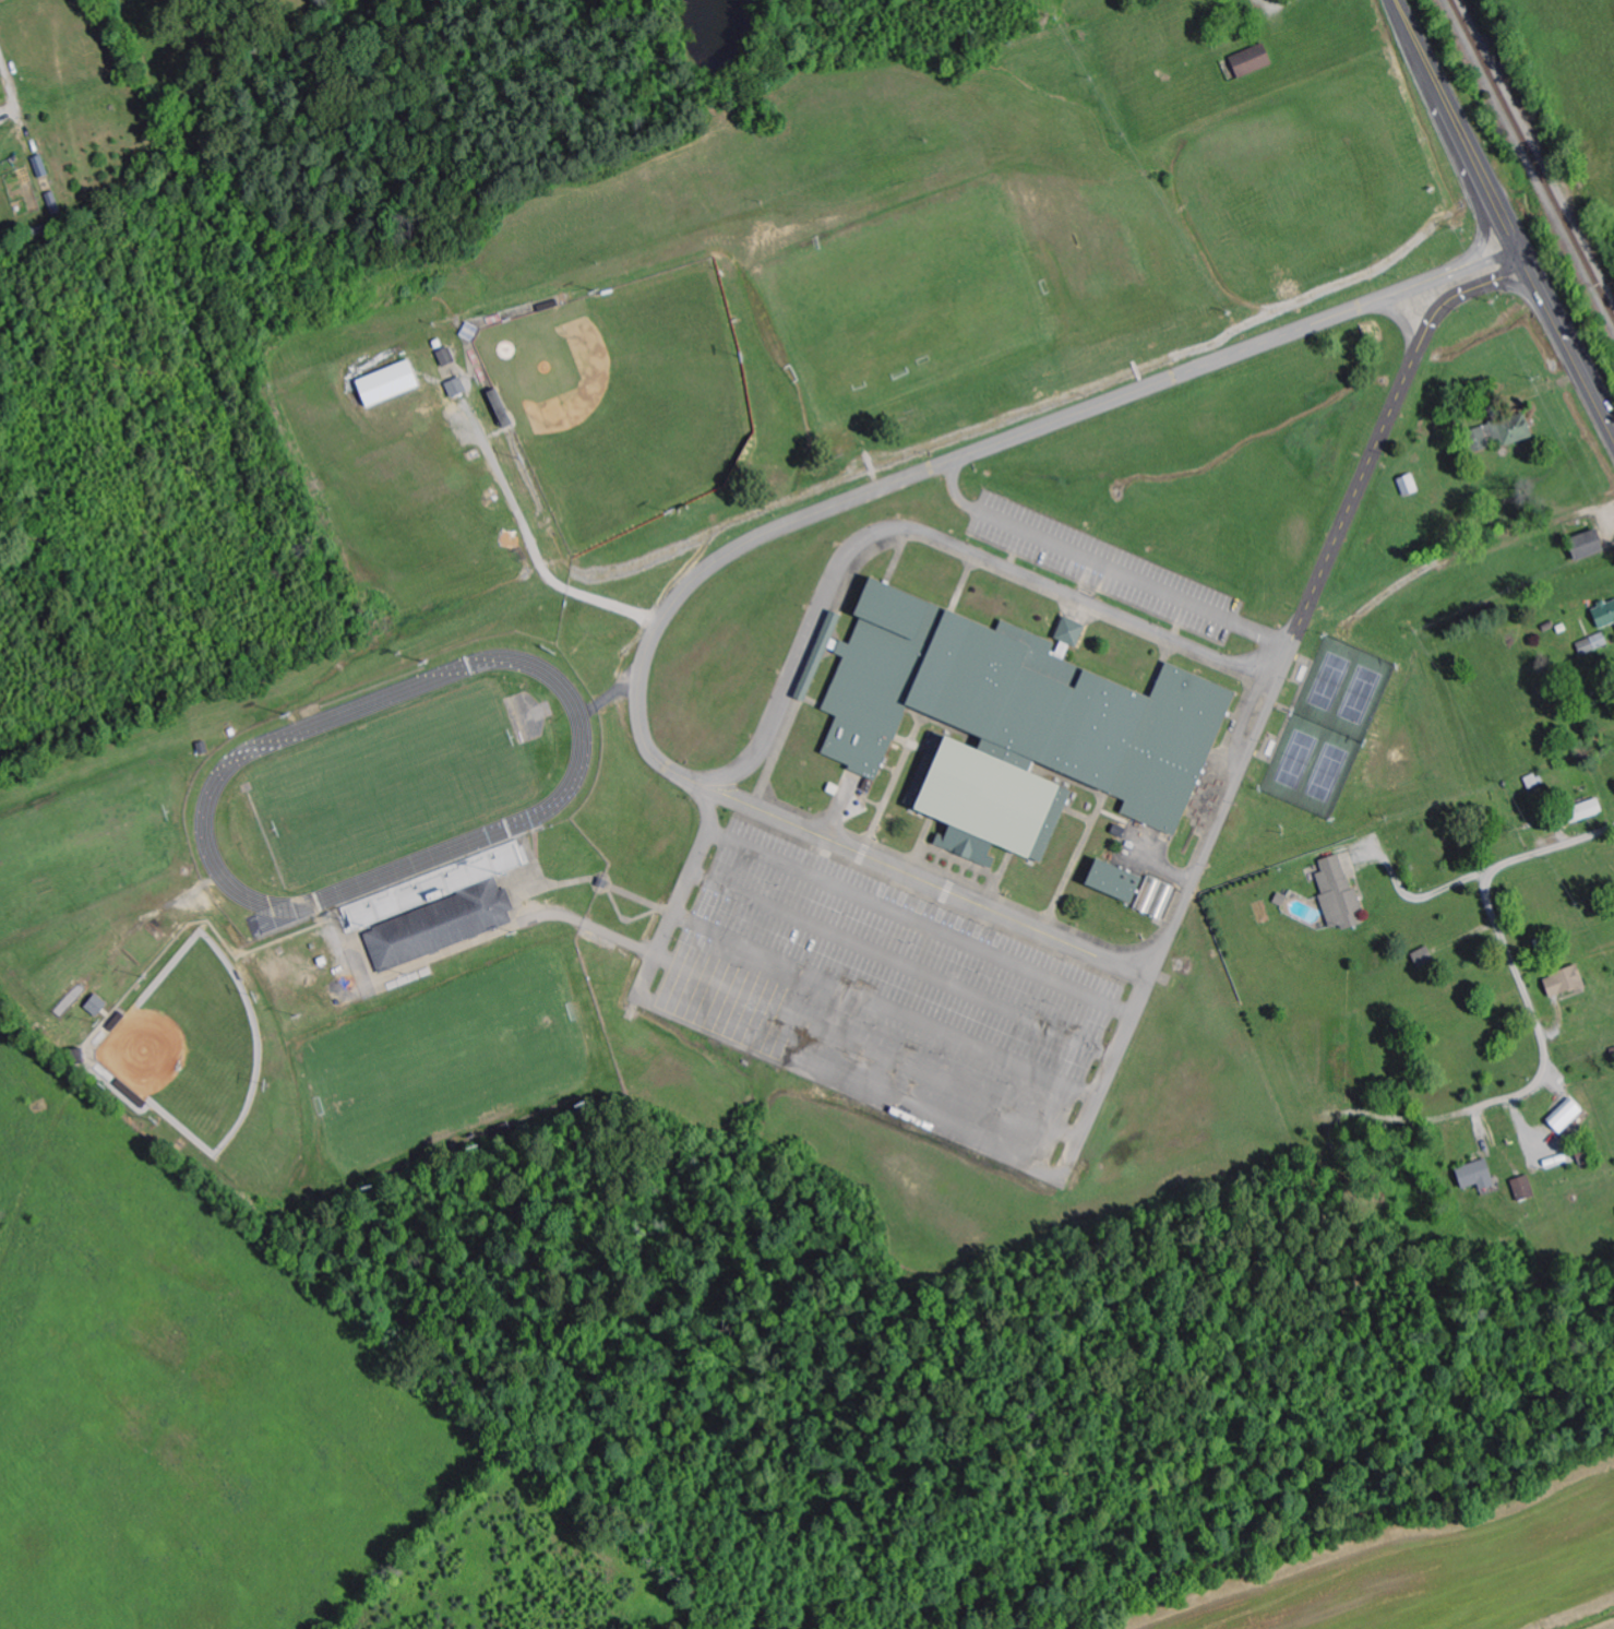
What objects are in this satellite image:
building: (1251, 61)
railway: (1531, 160)
building: (40, 167)
road: (1503, 217)
road: (1486, 228)
road: (1503, 275)
road: (1516, 286)
road: (1404, 328)
building: (446, 357)
building: (387, 384)
building: (456, 388)
building: (1502, 431)
road: (981, 449)
road: (930, 534)
building: (1587, 544)
road: (1101, 568)
building: (1604, 615)
building: (1069, 632)
building: (1009, 724)
building: (1580, 812)
road: (1207, 853)
building: (1113, 881)
building: (1339, 895)
building: (1155, 897)
building: (440, 926)
building: (1423, 958)
building: (1564, 982)
building: (96, 1006)
road: (1532, 1010)
building: (1565, 1116)
building: (1475, 1176)
building: (1523, 1189)

